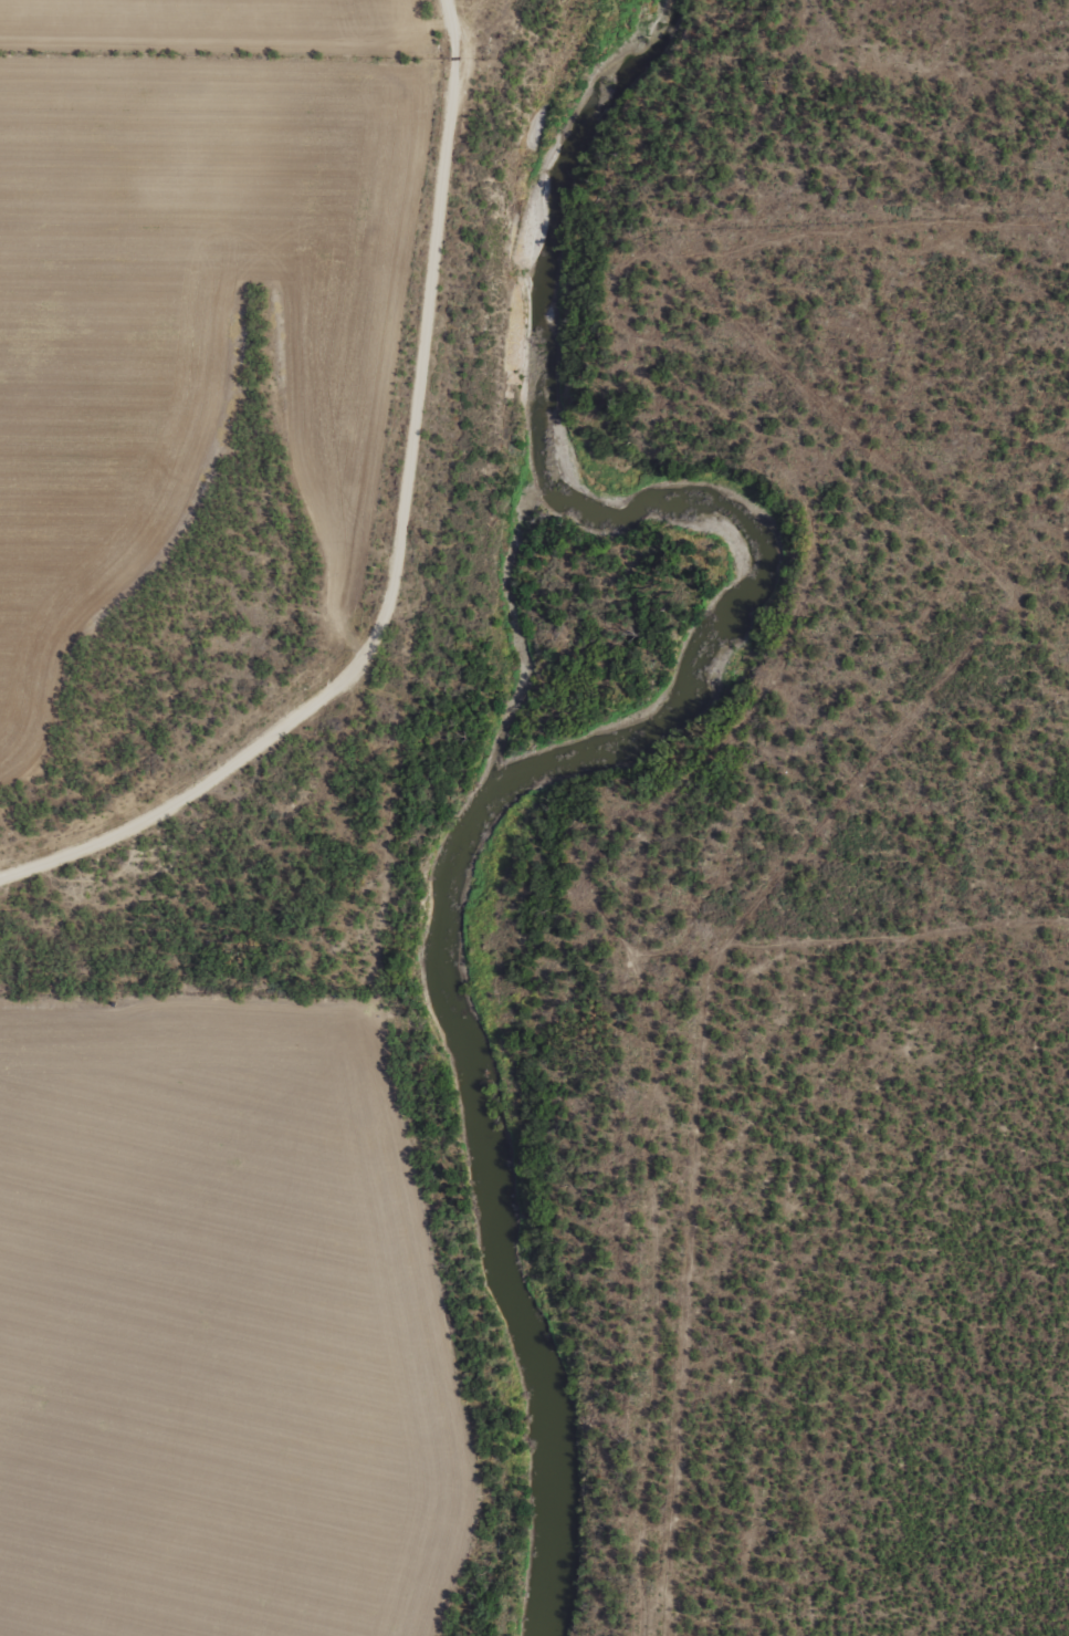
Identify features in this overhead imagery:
road: (378, 652)
river: (495, 810)

